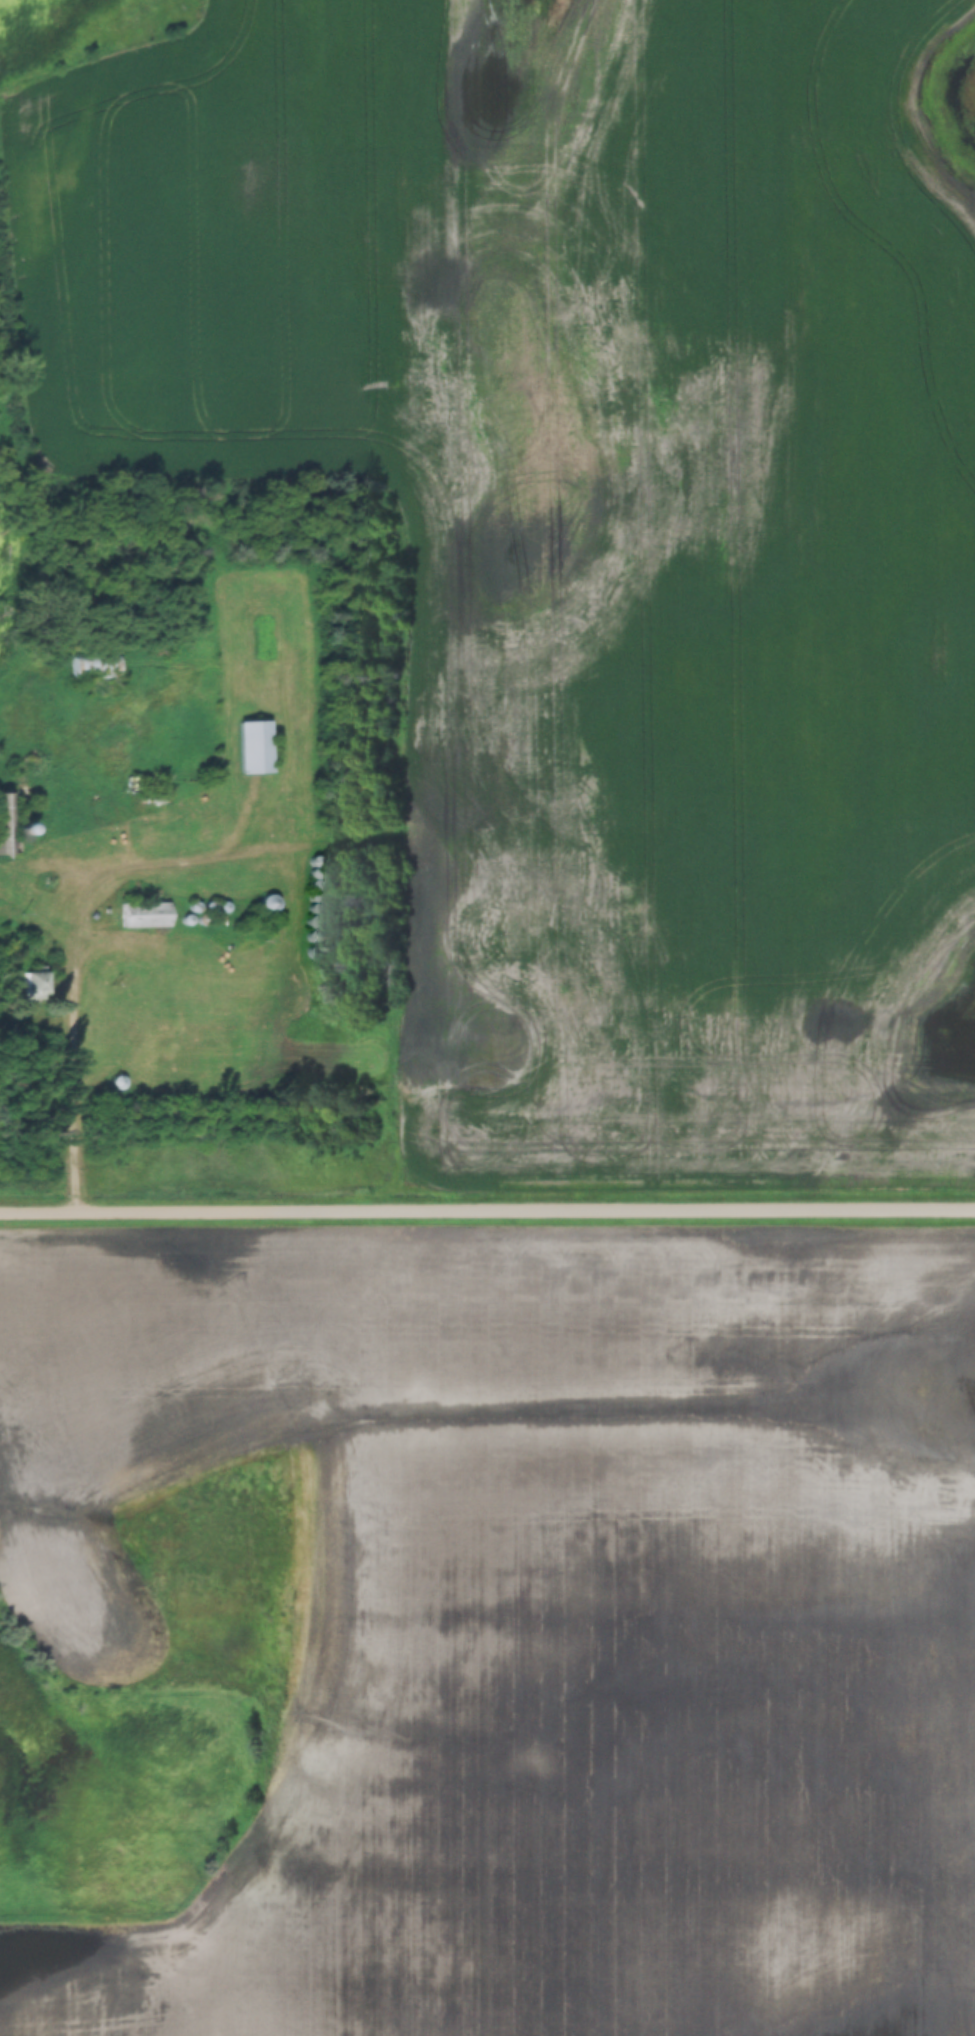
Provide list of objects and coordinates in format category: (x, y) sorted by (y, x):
road: (453, 635)
building: (94, 667)
building: (258, 748)
building: (5, 825)
building: (146, 916)
building: (33, 983)
road: (78, 1085)
road: (487, 1216)

